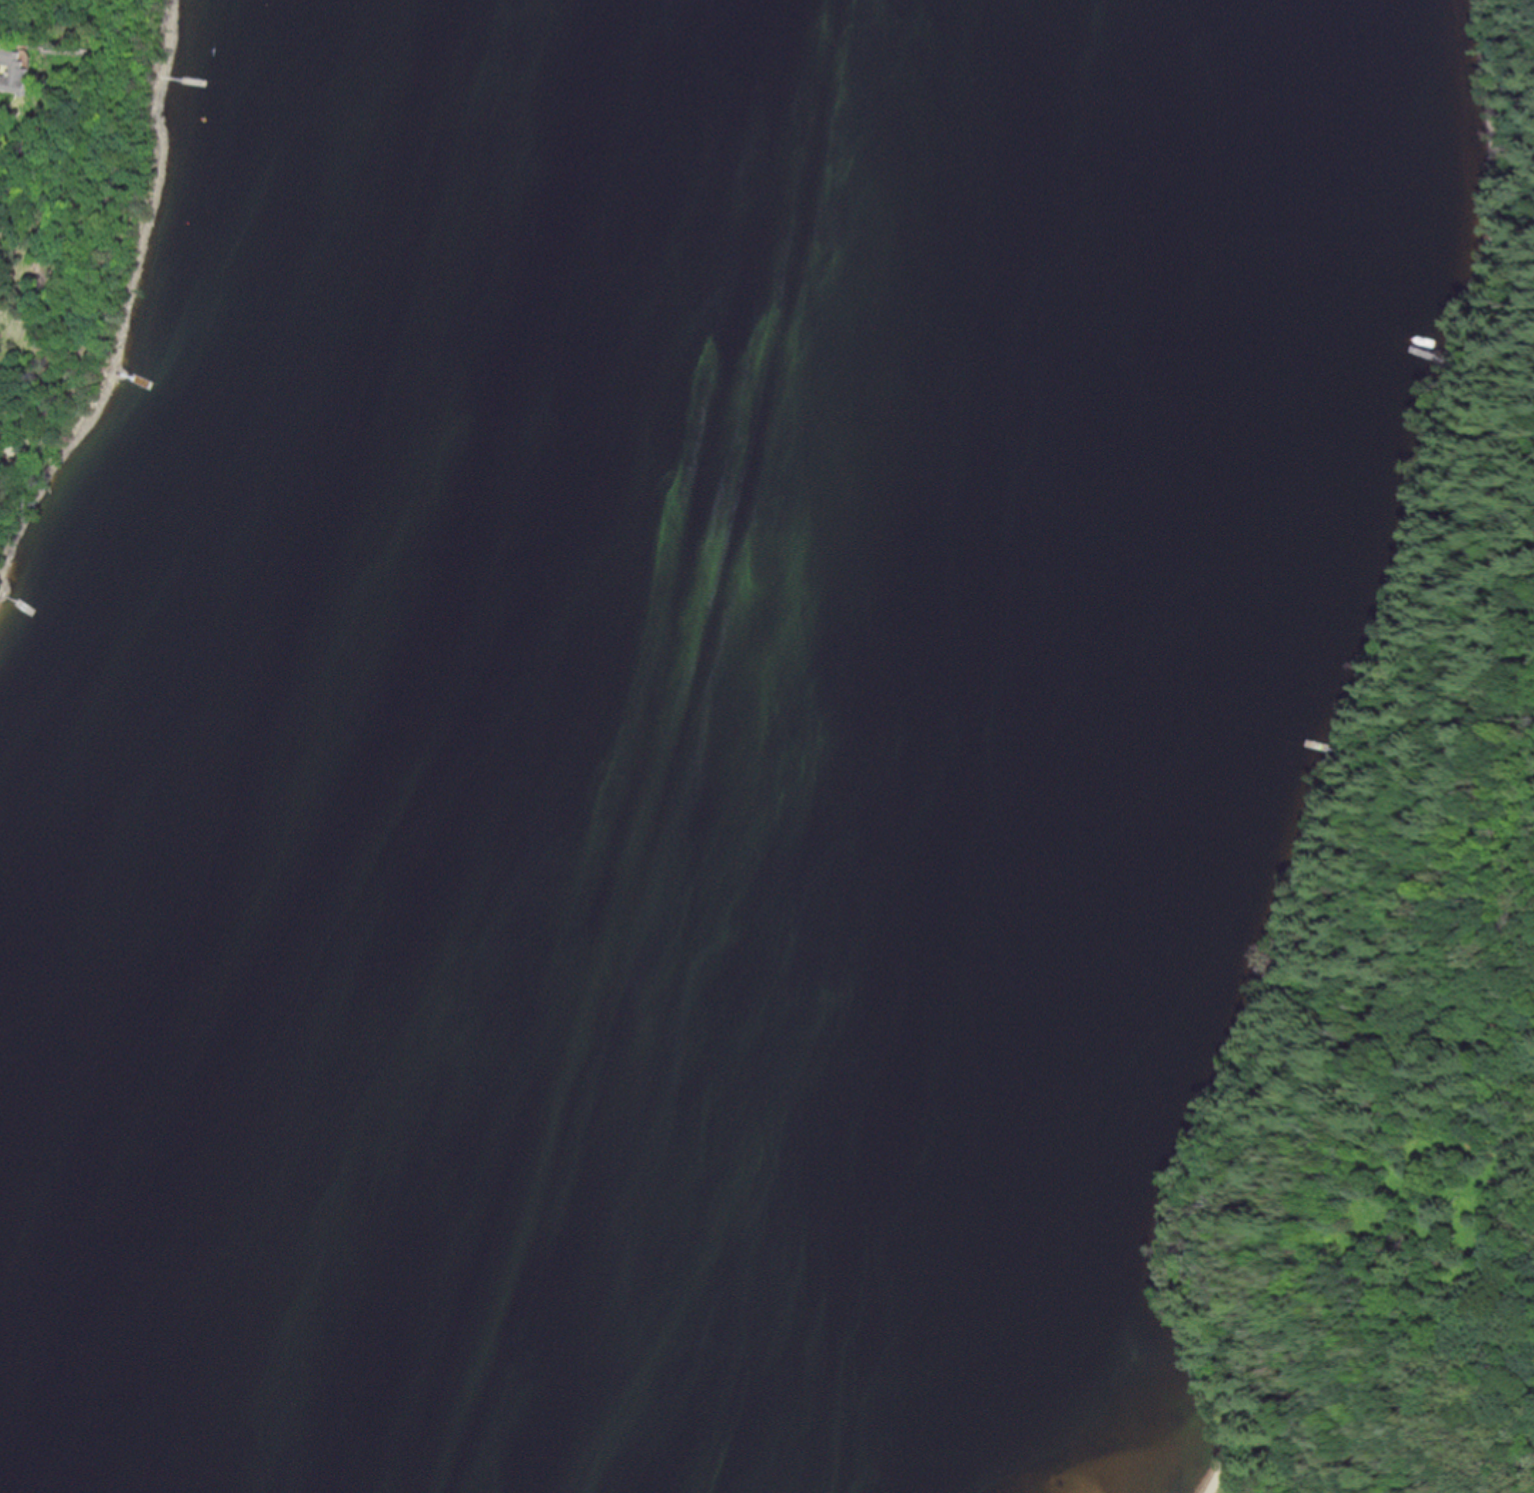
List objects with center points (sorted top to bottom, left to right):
building: (13, 70)
river: (731, 784)

